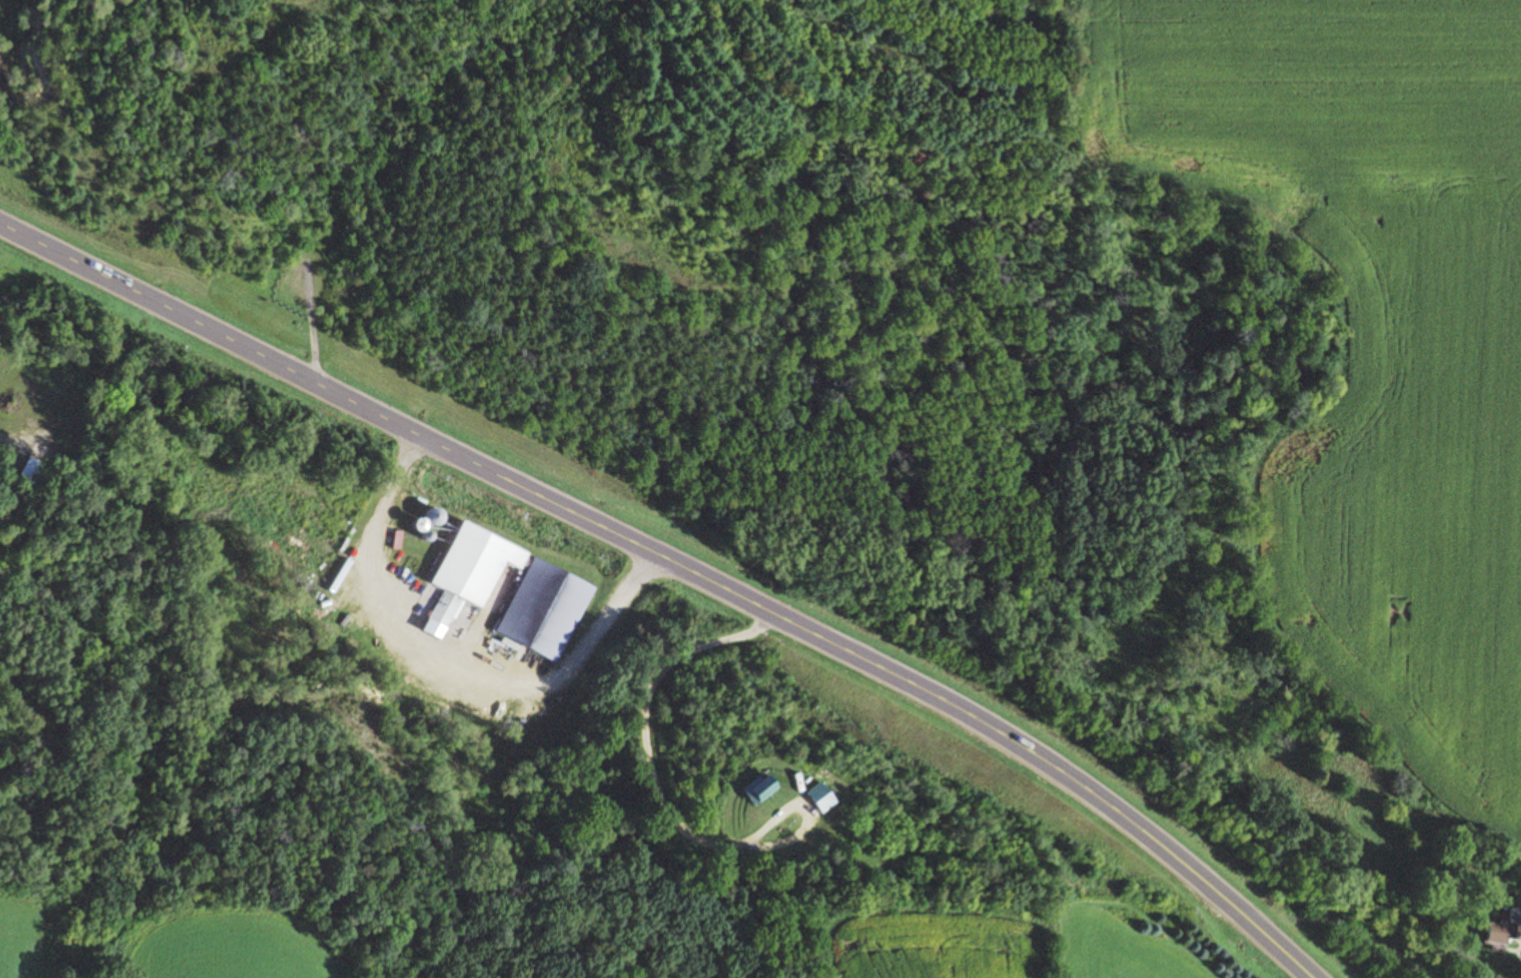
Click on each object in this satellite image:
road: (153, 133)
road: (311, 280)
road: (581, 286)
road: (688, 290)
road: (314, 345)
building: (32, 471)
road: (680, 564)
building: (477, 569)
building: (548, 609)
road: (443, 665)
building: (766, 788)
road: (657, 795)
building: (1504, 933)

